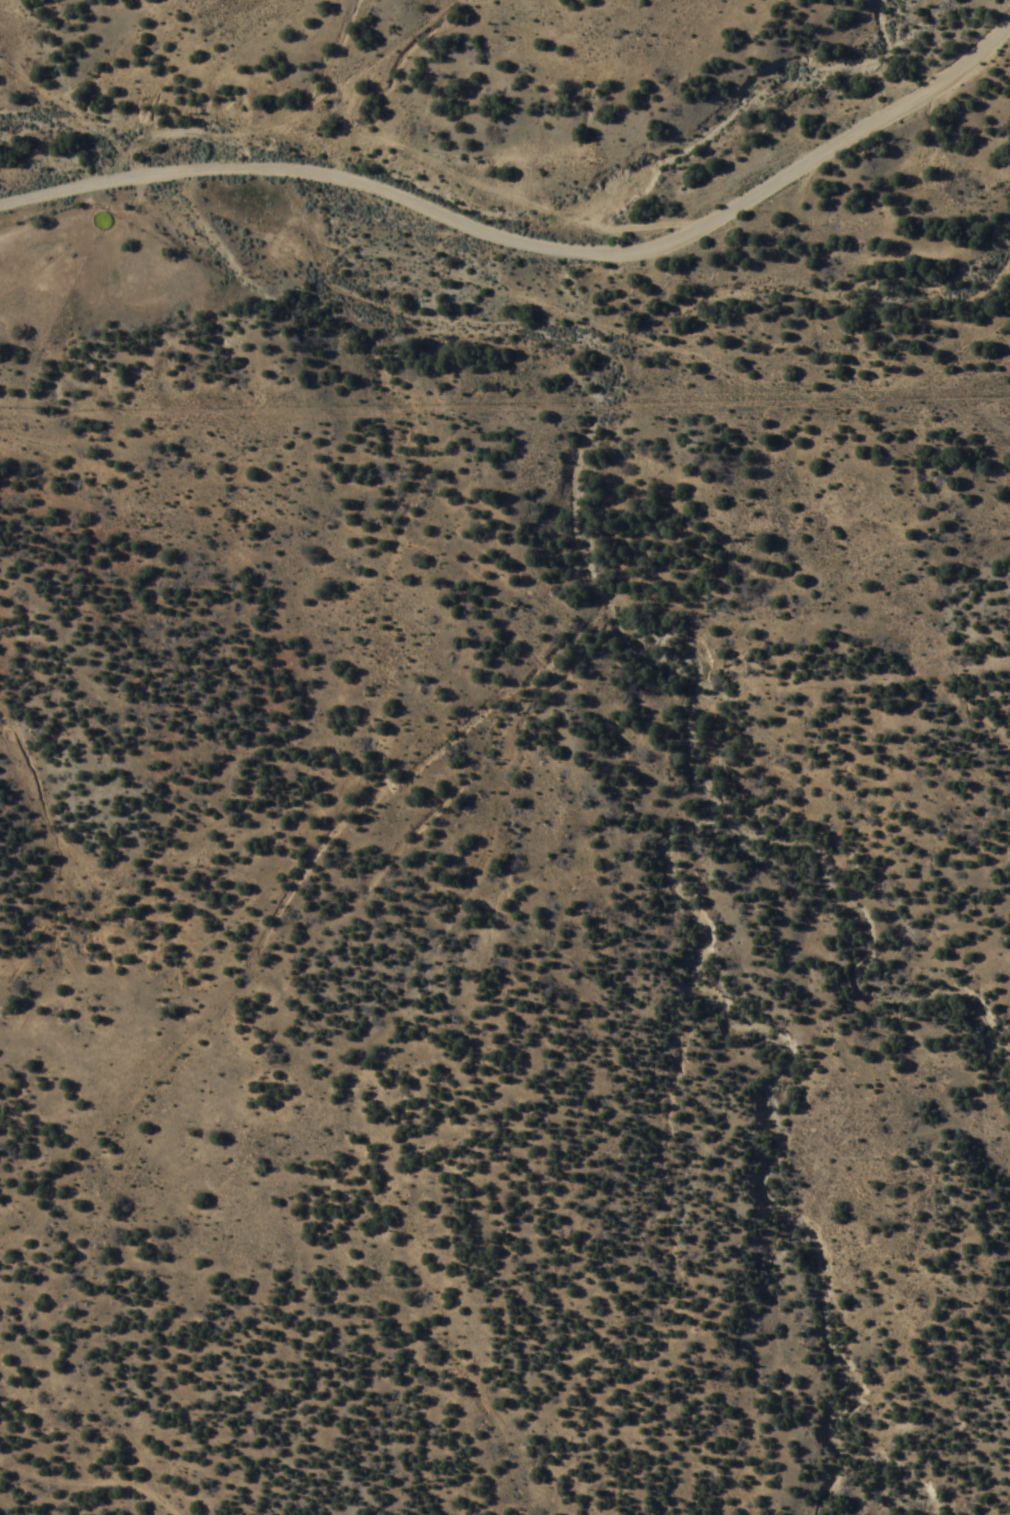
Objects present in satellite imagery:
road: (530, 244)

